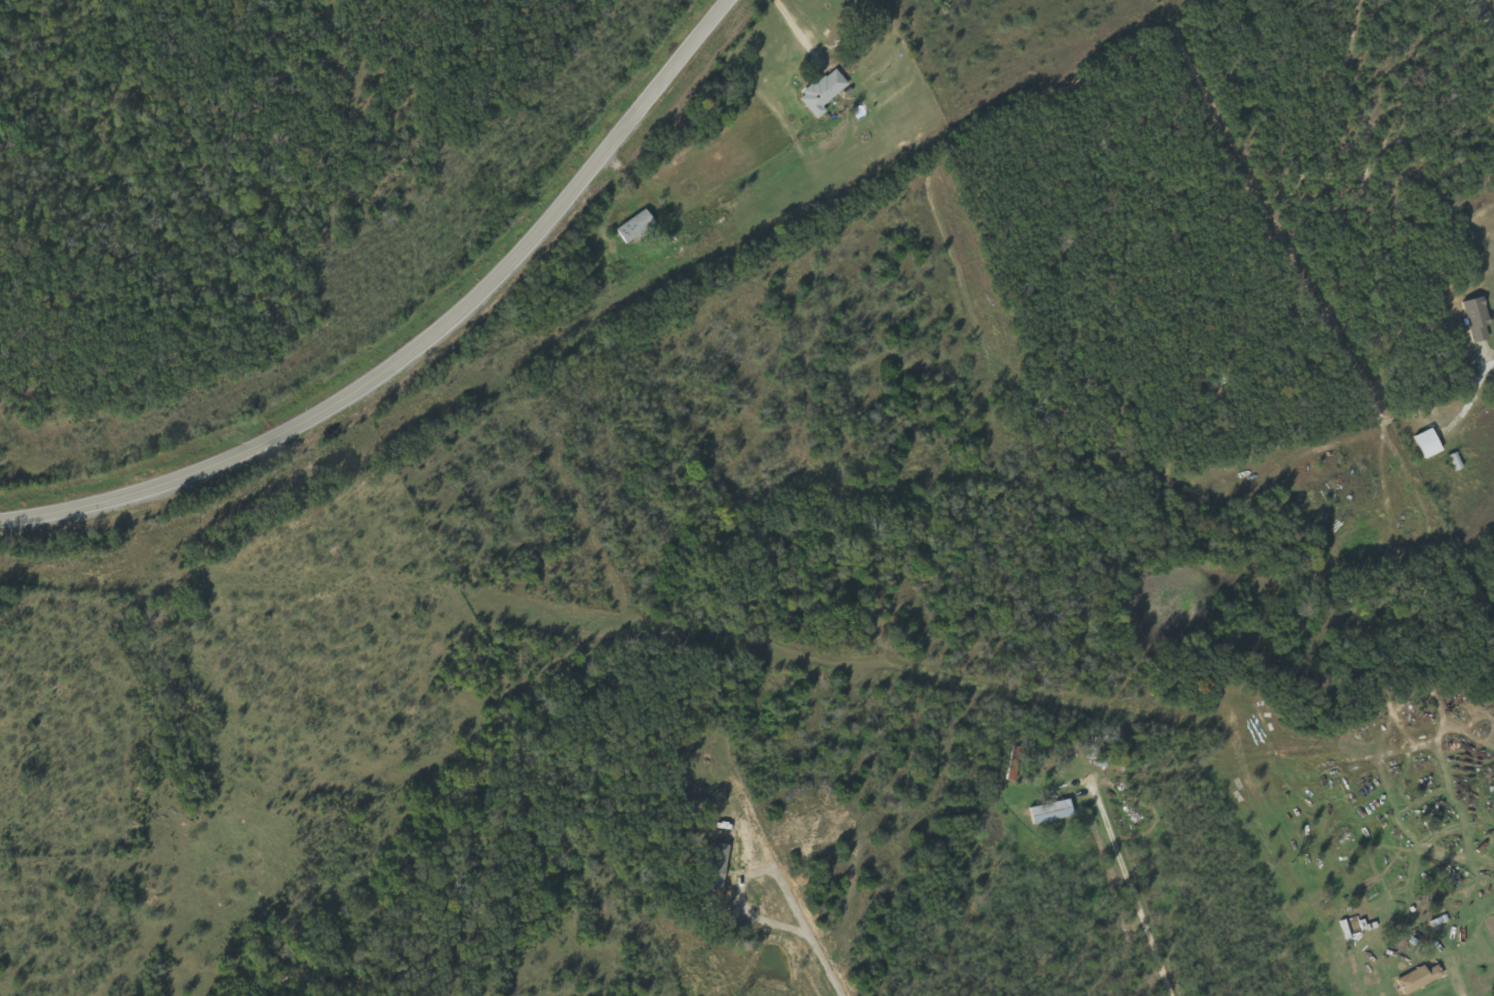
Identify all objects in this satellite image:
road: (1484, 15)
building: (826, 93)
building: (638, 226)
building: (1480, 319)
road: (423, 346)
building: (1431, 444)
building: (1055, 812)
road: (694, 966)
building: (1416, 979)

